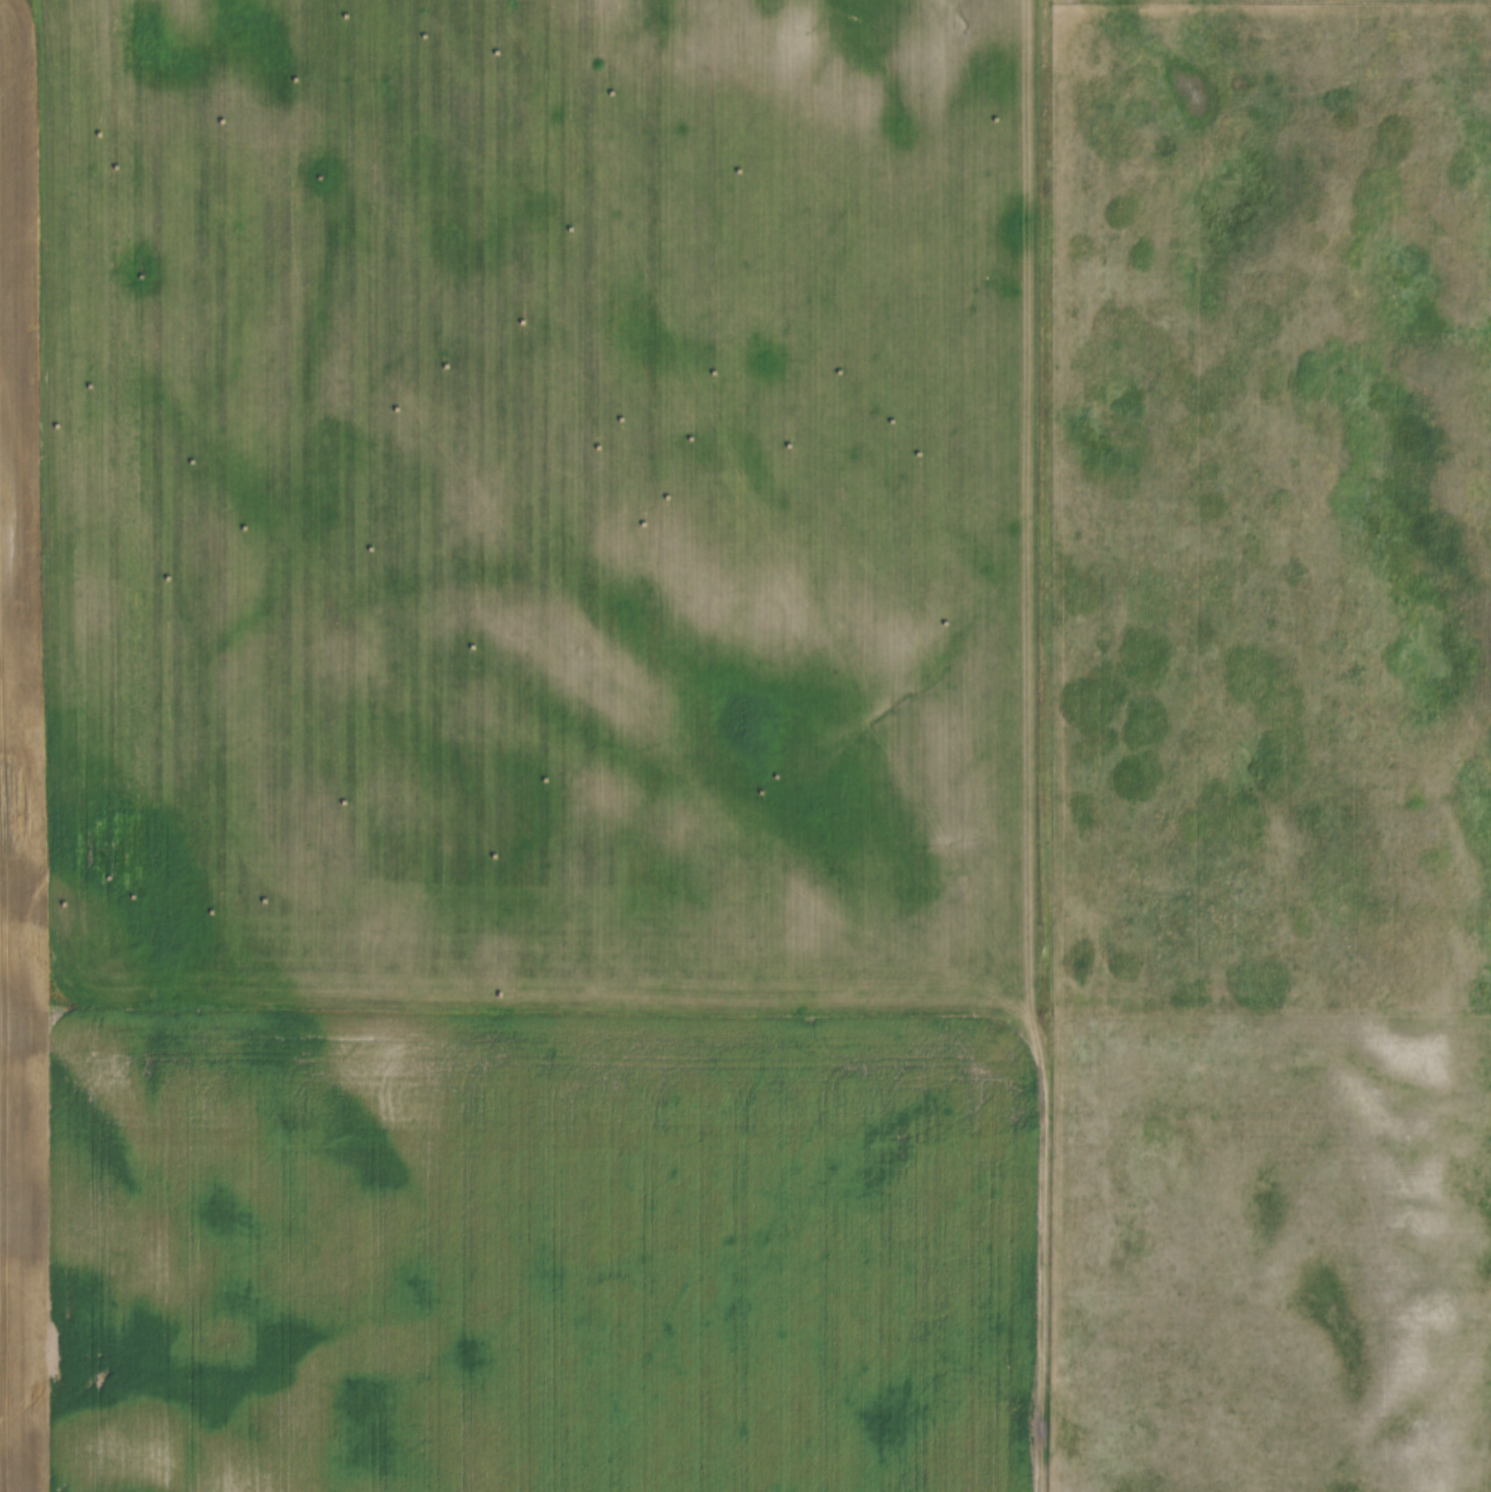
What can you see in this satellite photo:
road: (1043, 746)

